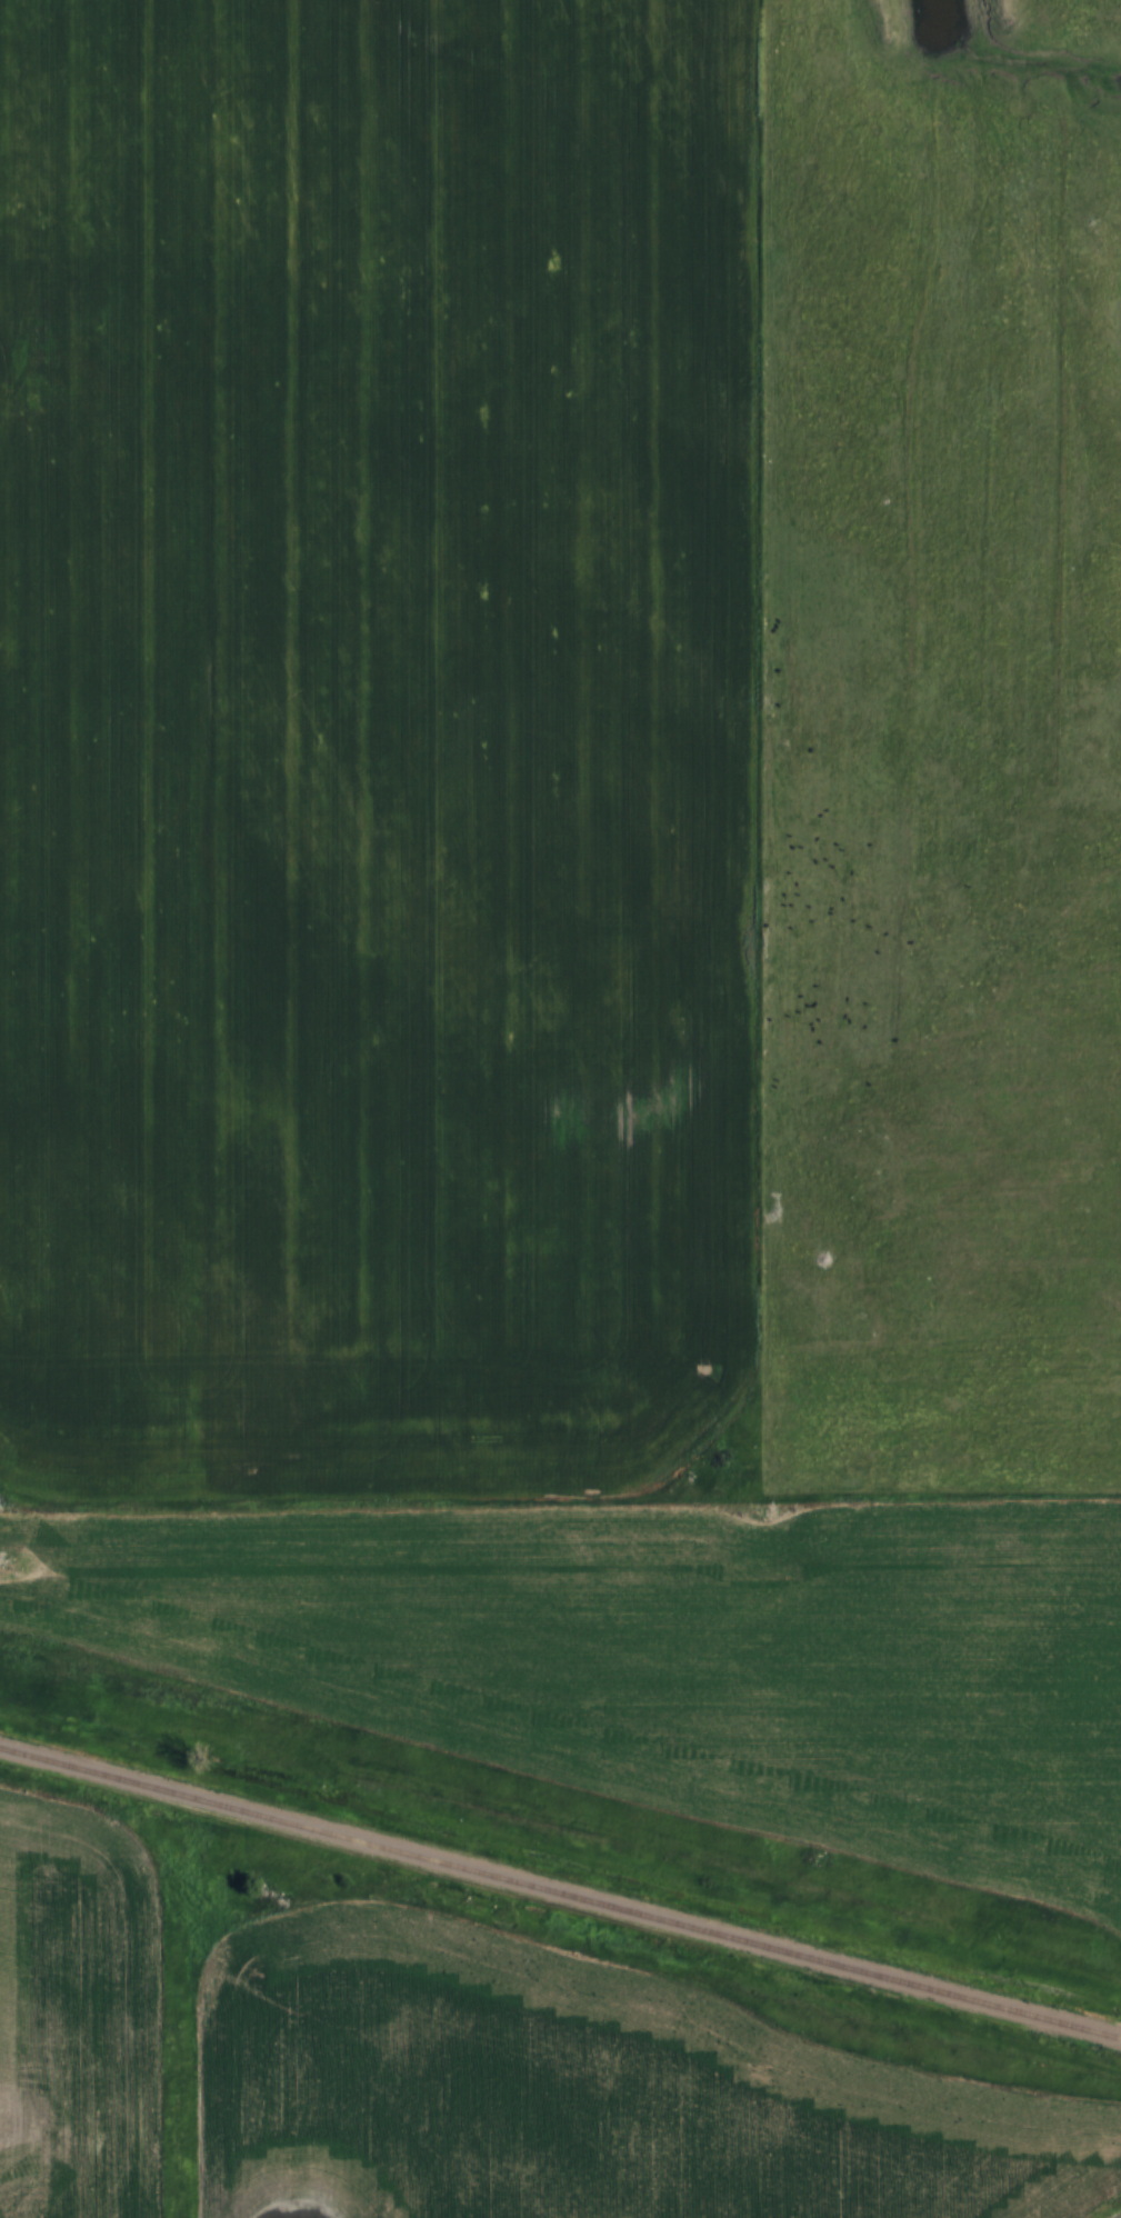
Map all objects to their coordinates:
railway: (560, 1892)

